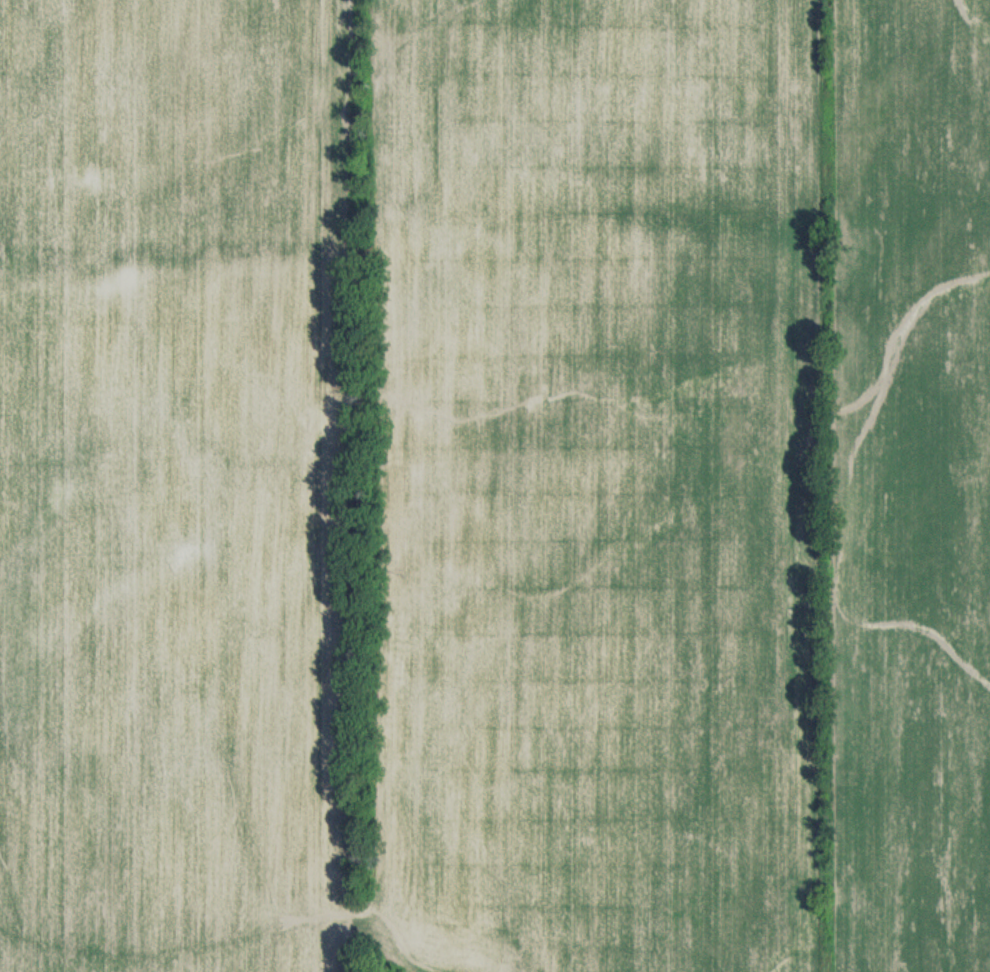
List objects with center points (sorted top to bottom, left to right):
crop: (495, 486)

